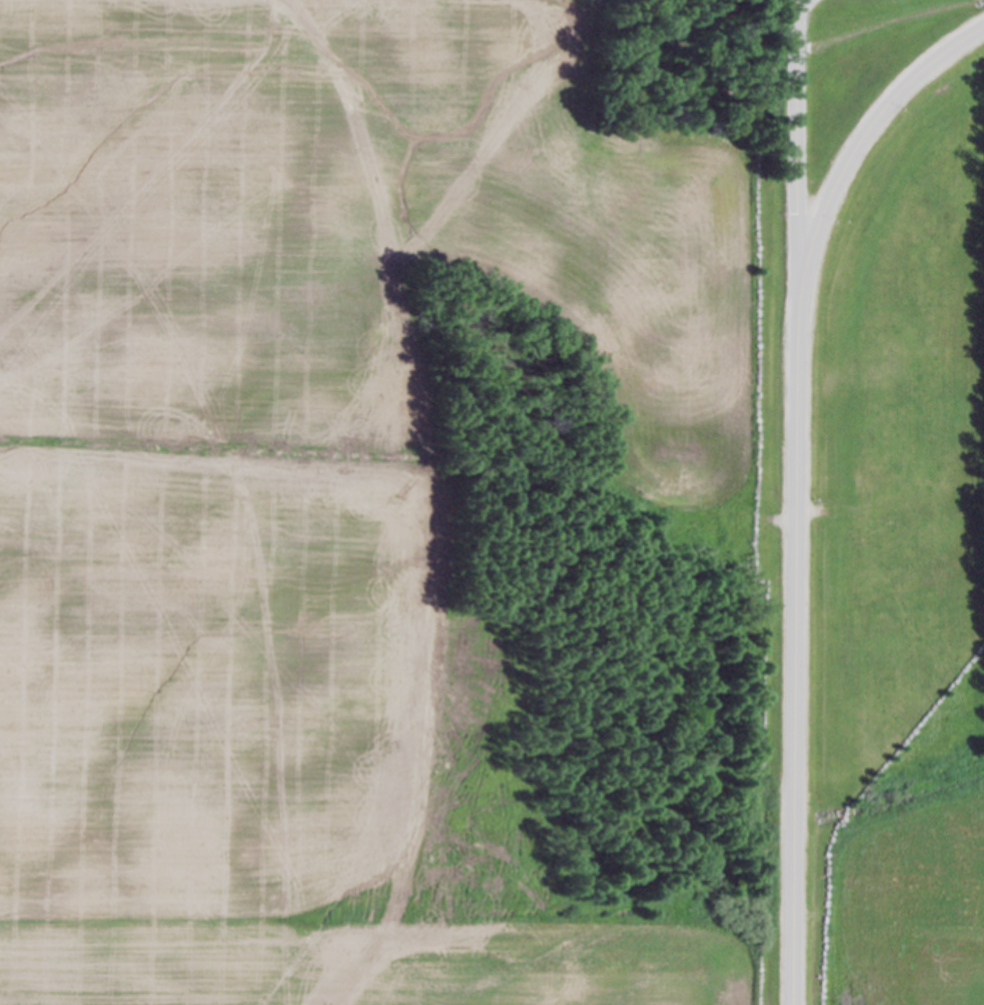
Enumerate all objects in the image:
road: (866, 136)
road: (798, 140)
road: (793, 642)

